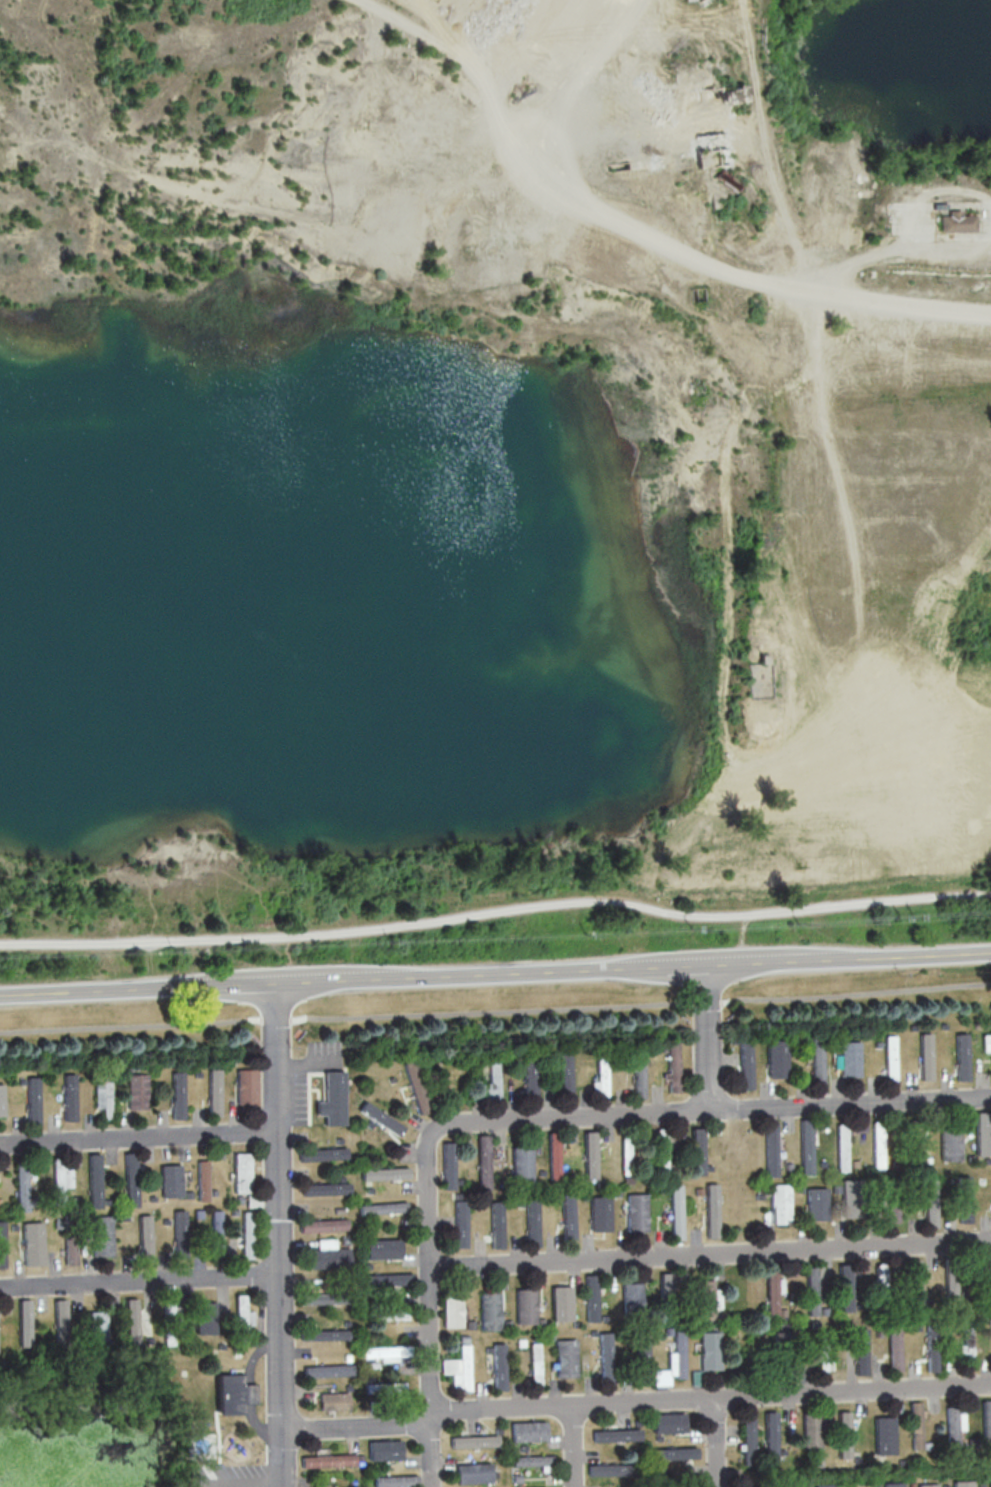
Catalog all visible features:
building: (954, 221)
road: (788, 226)
road: (496, 913)
road: (741, 938)
road: (495, 974)
road: (704, 1038)
building: (986, 1041)
building: (925, 1056)
building: (961, 1056)
building: (775, 1058)
building: (849, 1058)
building: (889, 1058)
building: (816, 1064)
building: (671, 1065)
building: (744, 1065)
building: (563, 1075)
building: (637, 1075)
building: (529, 1078)
building: (599, 1078)
building: (491, 1082)
building: (418, 1085)
building: (245, 1086)
building: (136, 1091)
building: (213, 1092)
building: (176, 1094)
building: (68, 1097)
building: (102, 1097)
building: (331, 1098)
building: (1, 1100)
building: (32, 1100)
building: (378, 1118)
building: (983, 1133)
road: (137, 1138)
building: (877, 1144)
building: (949, 1145)
building: (805, 1146)
building: (841, 1146)
building: (661, 1148)
building: (770, 1148)
building: (695, 1150)
building: (321, 1153)
building: (589, 1154)
building: (552, 1155)
building: (624, 1155)
building: (520, 1160)
building: (481, 1161)
building: (446, 1165)
building: (240, 1172)
building: (382, 1173)
building: (61, 1178)
building: (130, 1179)
building: (201, 1179)
building: (93, 1180)
building: (169, 1180)
building: (324, 1188)
building: (21, 1189)
building: (850, 1197)
building: (962, 1199)
building: (252, 1201)
road: (426, 1201)
building: (779, 1203)
building: (815, 1203)
building: (929, 1203)
building: (380, 1207)
building: (711, 1210)
building: (635, 1211)
building: (675, 1211)
building: (891, 1212)
building: (599, 1213)
building: (566, 1217)
building: (530, 1222)
building: (459, 1223)
building: (494, 1224)
building: (322, 1225)
building: (179, 1232)
building: (216, 1232)
building: (246, 1234)
building: (102, 1235)
road: (276, 1235)
building: (145, 1238)
building: (2, 1243)
building: (33, 1243)
building: (381, 1248)
building: (70, 1249)
building: (327, 1255)
building: (986, 1267)
building: (879, 1276)
building: (382, 1279)
building: (912, 1280)
road: (138, 1281)
building: (665, 1283)
building: (949, 1286)
building: (844, 1287)
building: (811, 1290)
building: (771, 1292)
building: (631, 1295)
building: (590, 1297)
building: (705, 1297)
building: (319, 1298)
building: (560, 1303)
building: (524, 1305)
building: (169, 1309)
building: (450, 1310)
building: (488, 1310)
building: (242, 1311)
building: (390, 1313)
building: (205, 1317)
building: (61, 1321)
building: (132, 1321)
building: (24, 1322)
building: (97, 1326)
building: (324, 1334)
building: (965, 1344)
building: (894, 1349)
building: (931, 1349)
building: (709, 1350)
building: (641, 1351)
building: (860, 1351)
building: (386, 1352)
building: (605, 1355)
building: (823, 1356)
building: (565, 1357)
building: (672, 1361)
building: (534, 1364)
building: (498, 1366)
building: (457, 1368)
building: (328, 1370)
road: (429, 1376)
building: (384, 1388)
building: (232, 1394)
building: (334, 1400)
road: (710, 1405)
building: (986, 1420)
building: (668, 1422)
building: (915, 1424)
building: (953, 1424)
road: (355, 1428)
building: (812, 1429)
building: (527, 1431)
building: (615, 1434)
building: (770, 1434)
building: (843, 1434)
building: (884, 1435)
building: (748, 1437)
building: (473, 1441)
water park: (202, 1446)
road: (570, 1446)
road: (714, 1446)
building: (384, 1449)
building: (673, 1453)
building: (328, 1460)
building: (531, 1460)
building: (607, 1469)
building: (473, 1472)
parking lot: (231, 1476)
building: (195, 1477)
building: (394, 1480)
building: (990, 1480)
building: (963, 1483)
building: (893, 1484)
building: (825, 1485)
building: (927, 1485)

